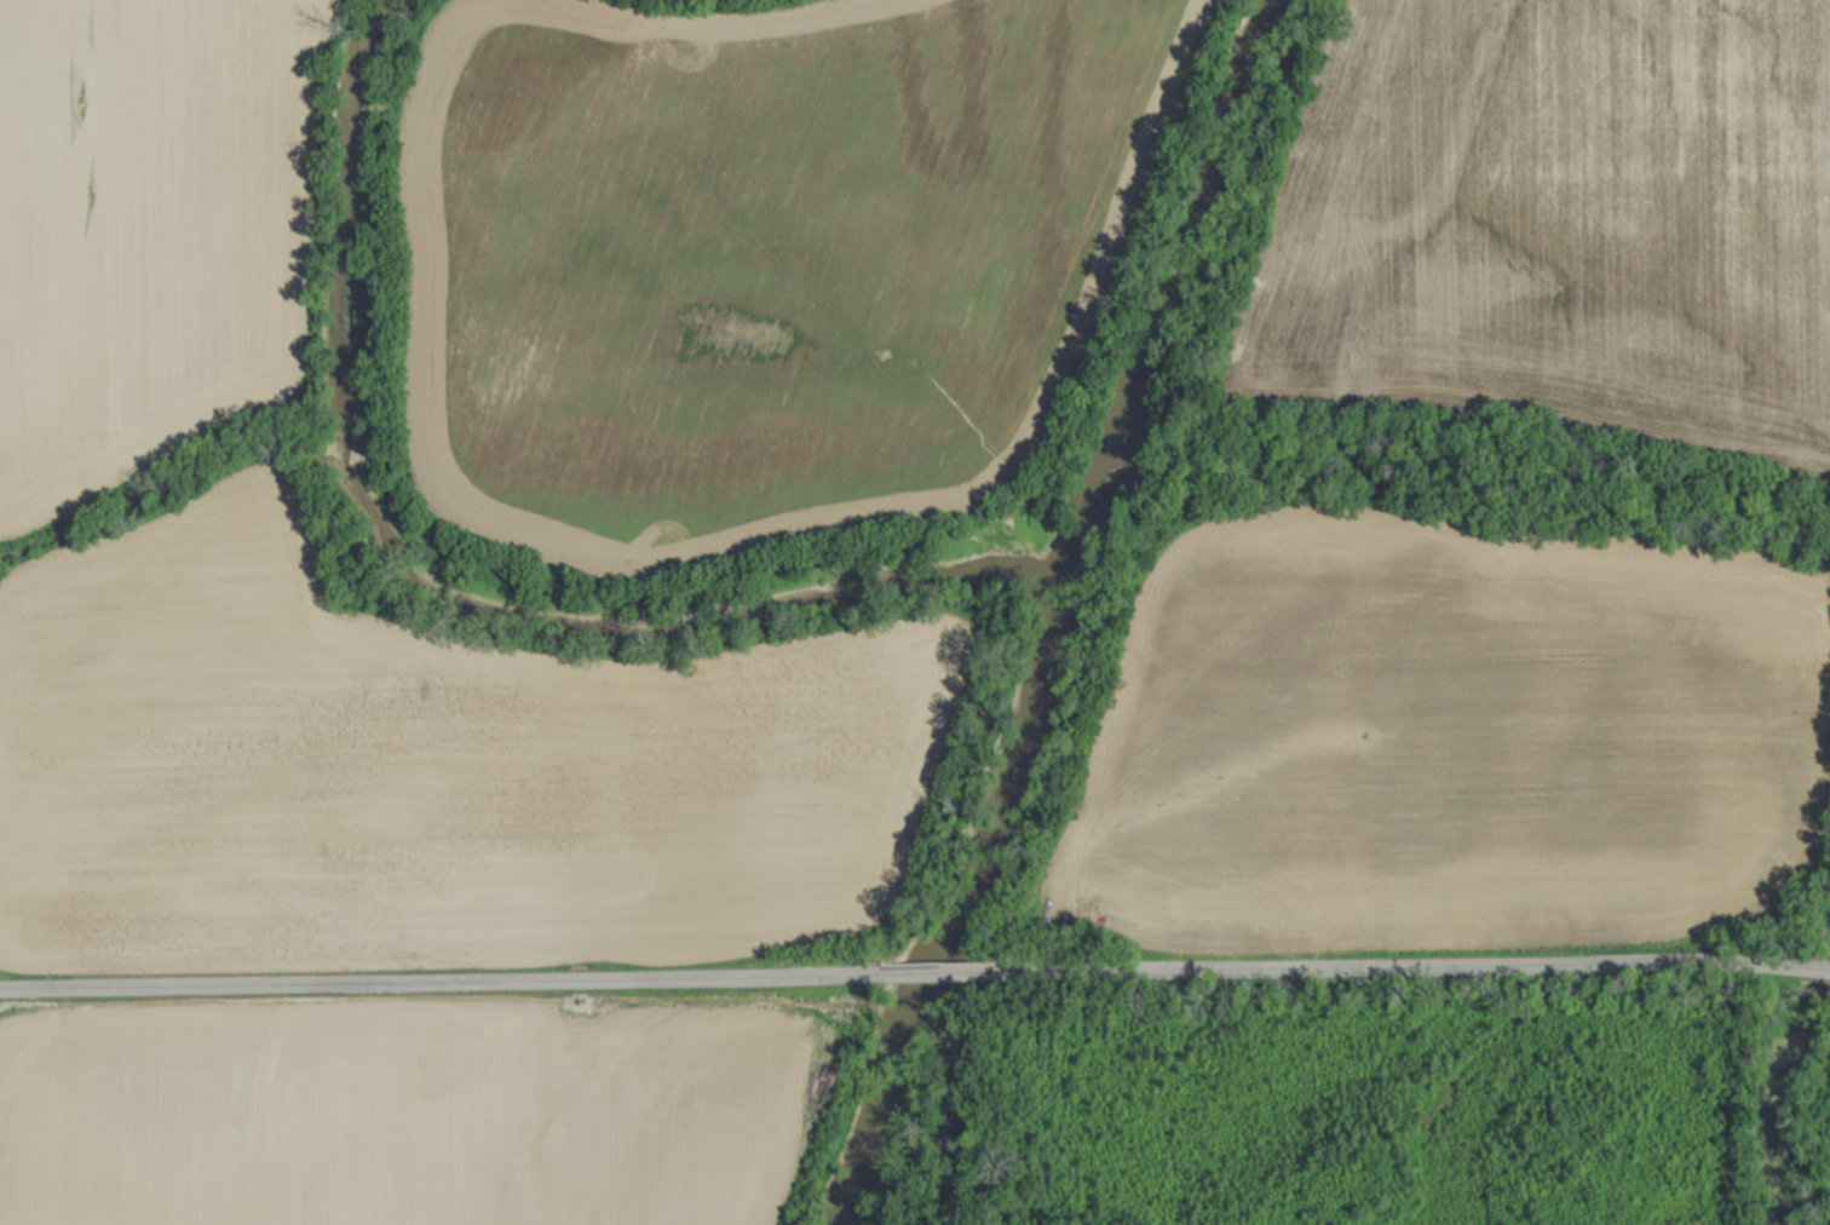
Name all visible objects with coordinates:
river: (829, 587)
road: (1807, 959)
road: (1398, 962)
road: (946, 970)
road: (441, 987)
river: (1772, 1065)

